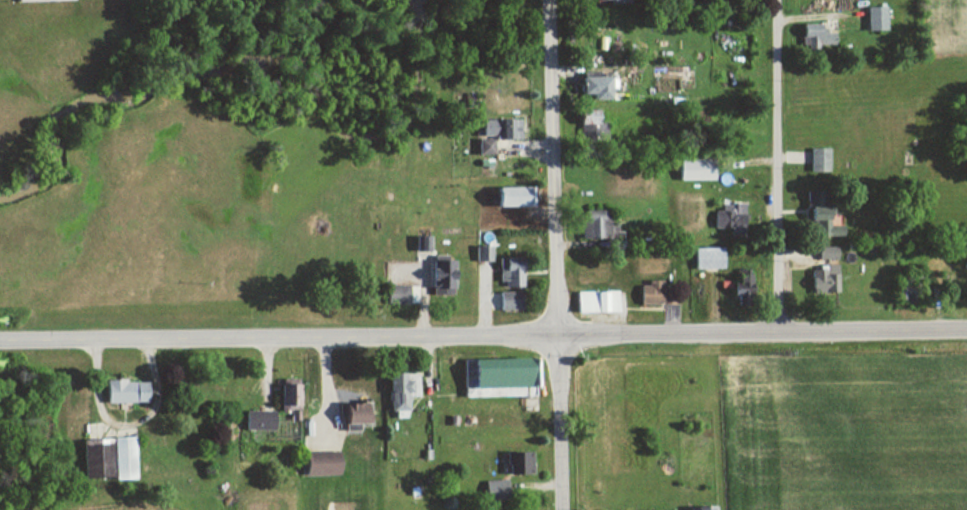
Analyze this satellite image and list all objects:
building: (31, 0)
building: (607, 0)
building: (872, 18)
crop: (944, 25)
building: (811, 37)
building: (590, 88)
building: (584, 117)
building: (496, 129)
building: (480, 146)
building: (815, 160)
road: (778, 165)
building: (692, 170)
building: (507, 197)
building: (726, 216)
building: (817, 216)
building: (593, 222)
building: (479, 253)
building: (823, 253)
road: (557, 254)
building: (705, 258)
building: (506, 272)
building: (435, 276)
building: (819, 280)
building: (738, 290)
building: (648, 294)
building: (393, 296)
building: (505, 301)
building: (592, 302)
road: (483, 334)
building: (495, 377)
building: (397, 391)
building: (121, 392)
building: (285, 398)
building: (350, 416)
building: (254, 420)
crop: (844, 430)
building: (104, 459)
building: (514, 464)
building: (316, 465)
building: (491, 490)
crop: (94, 504)
building: (707, 509)

